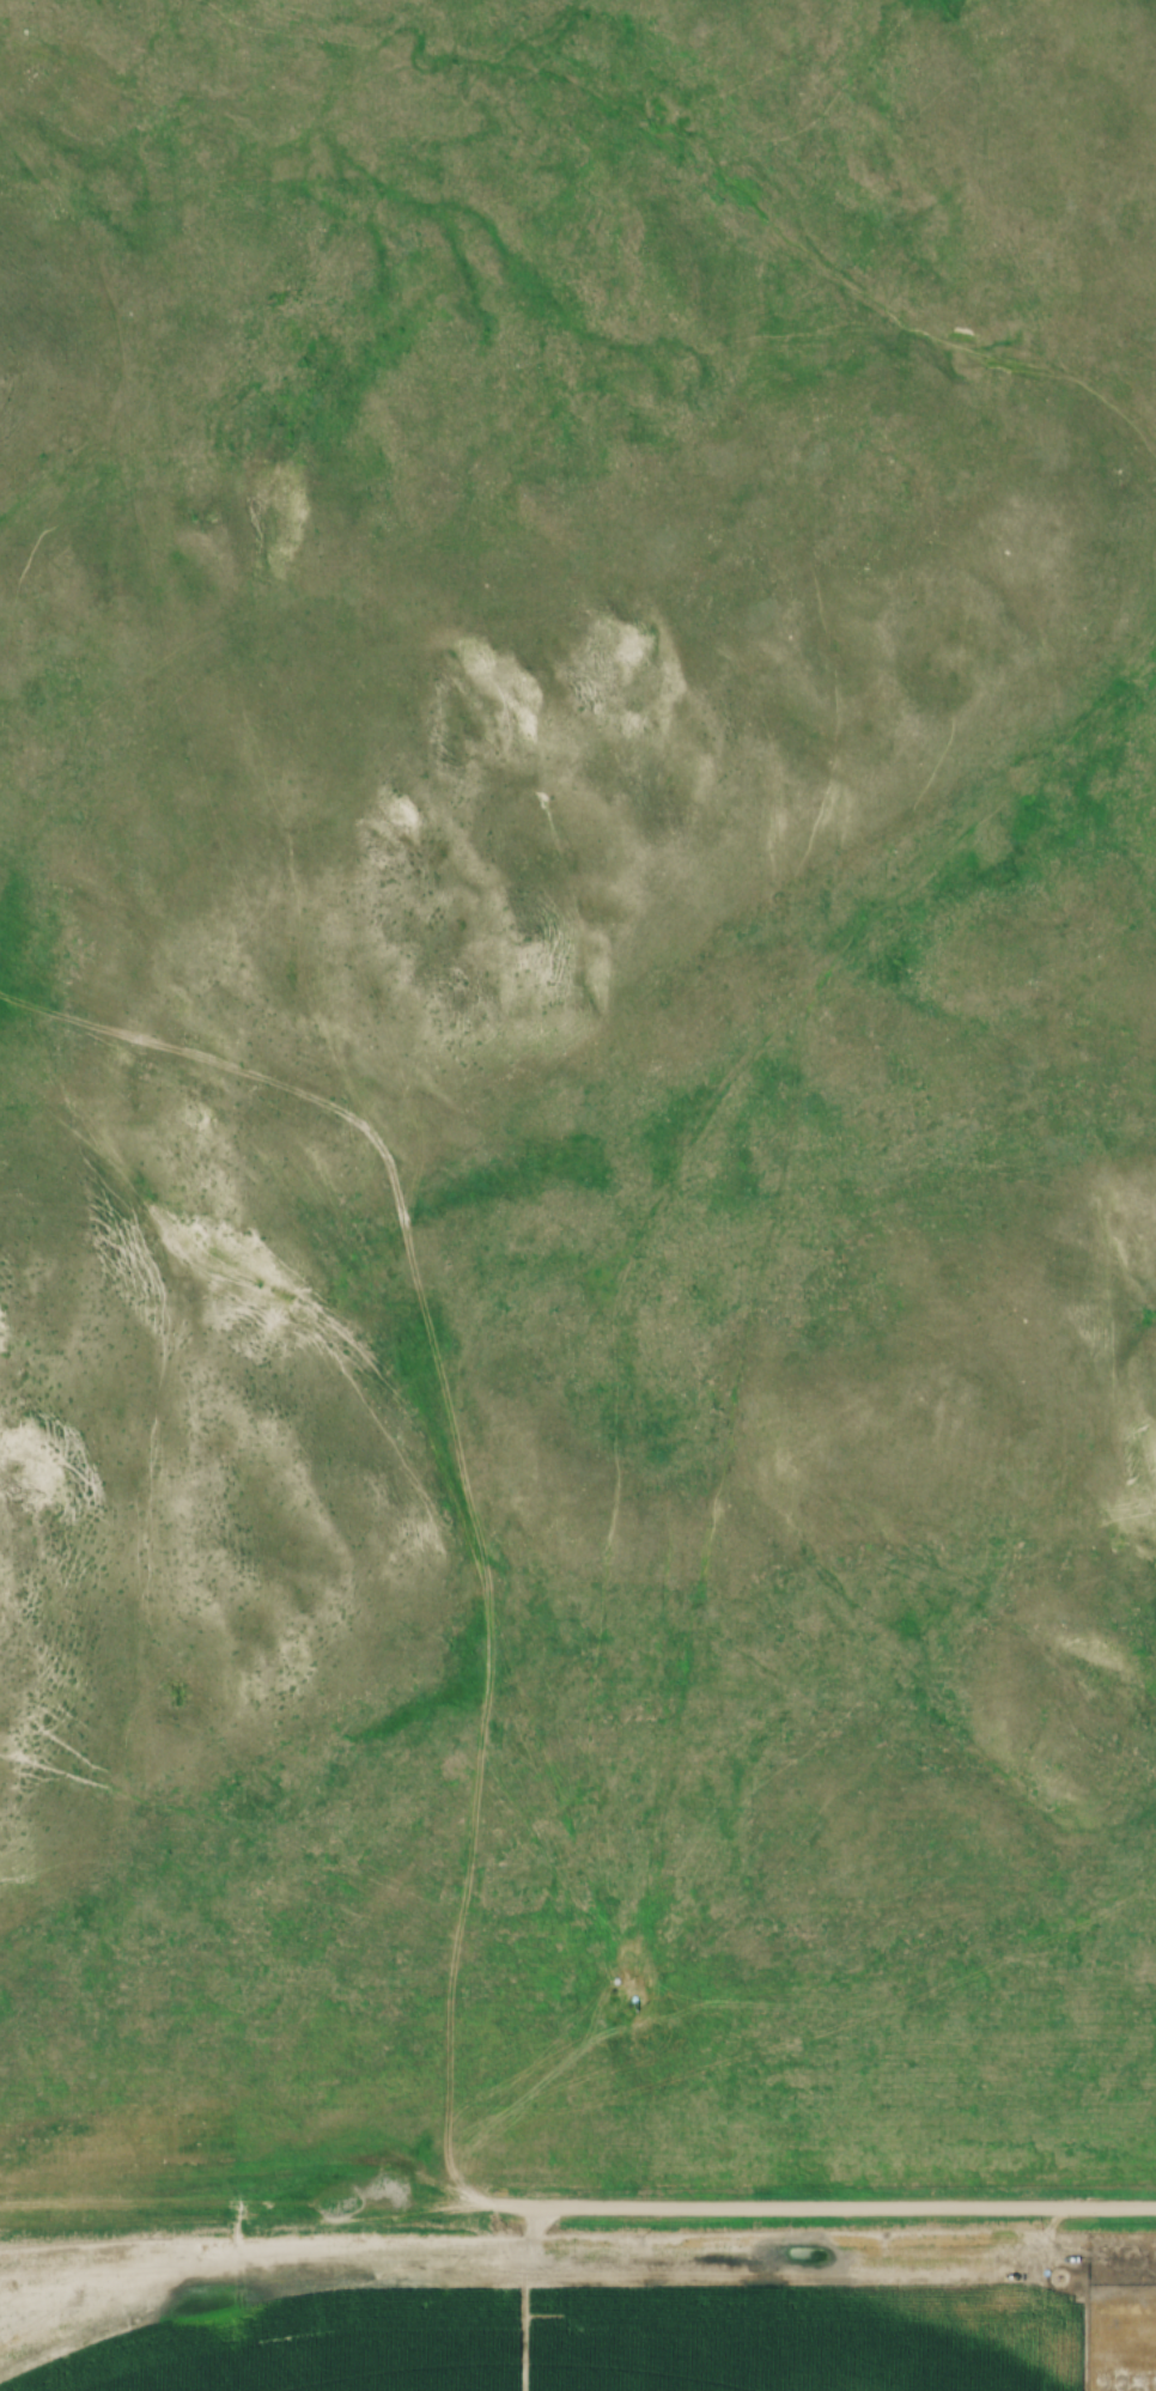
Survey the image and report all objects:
road: (577, 2204)

